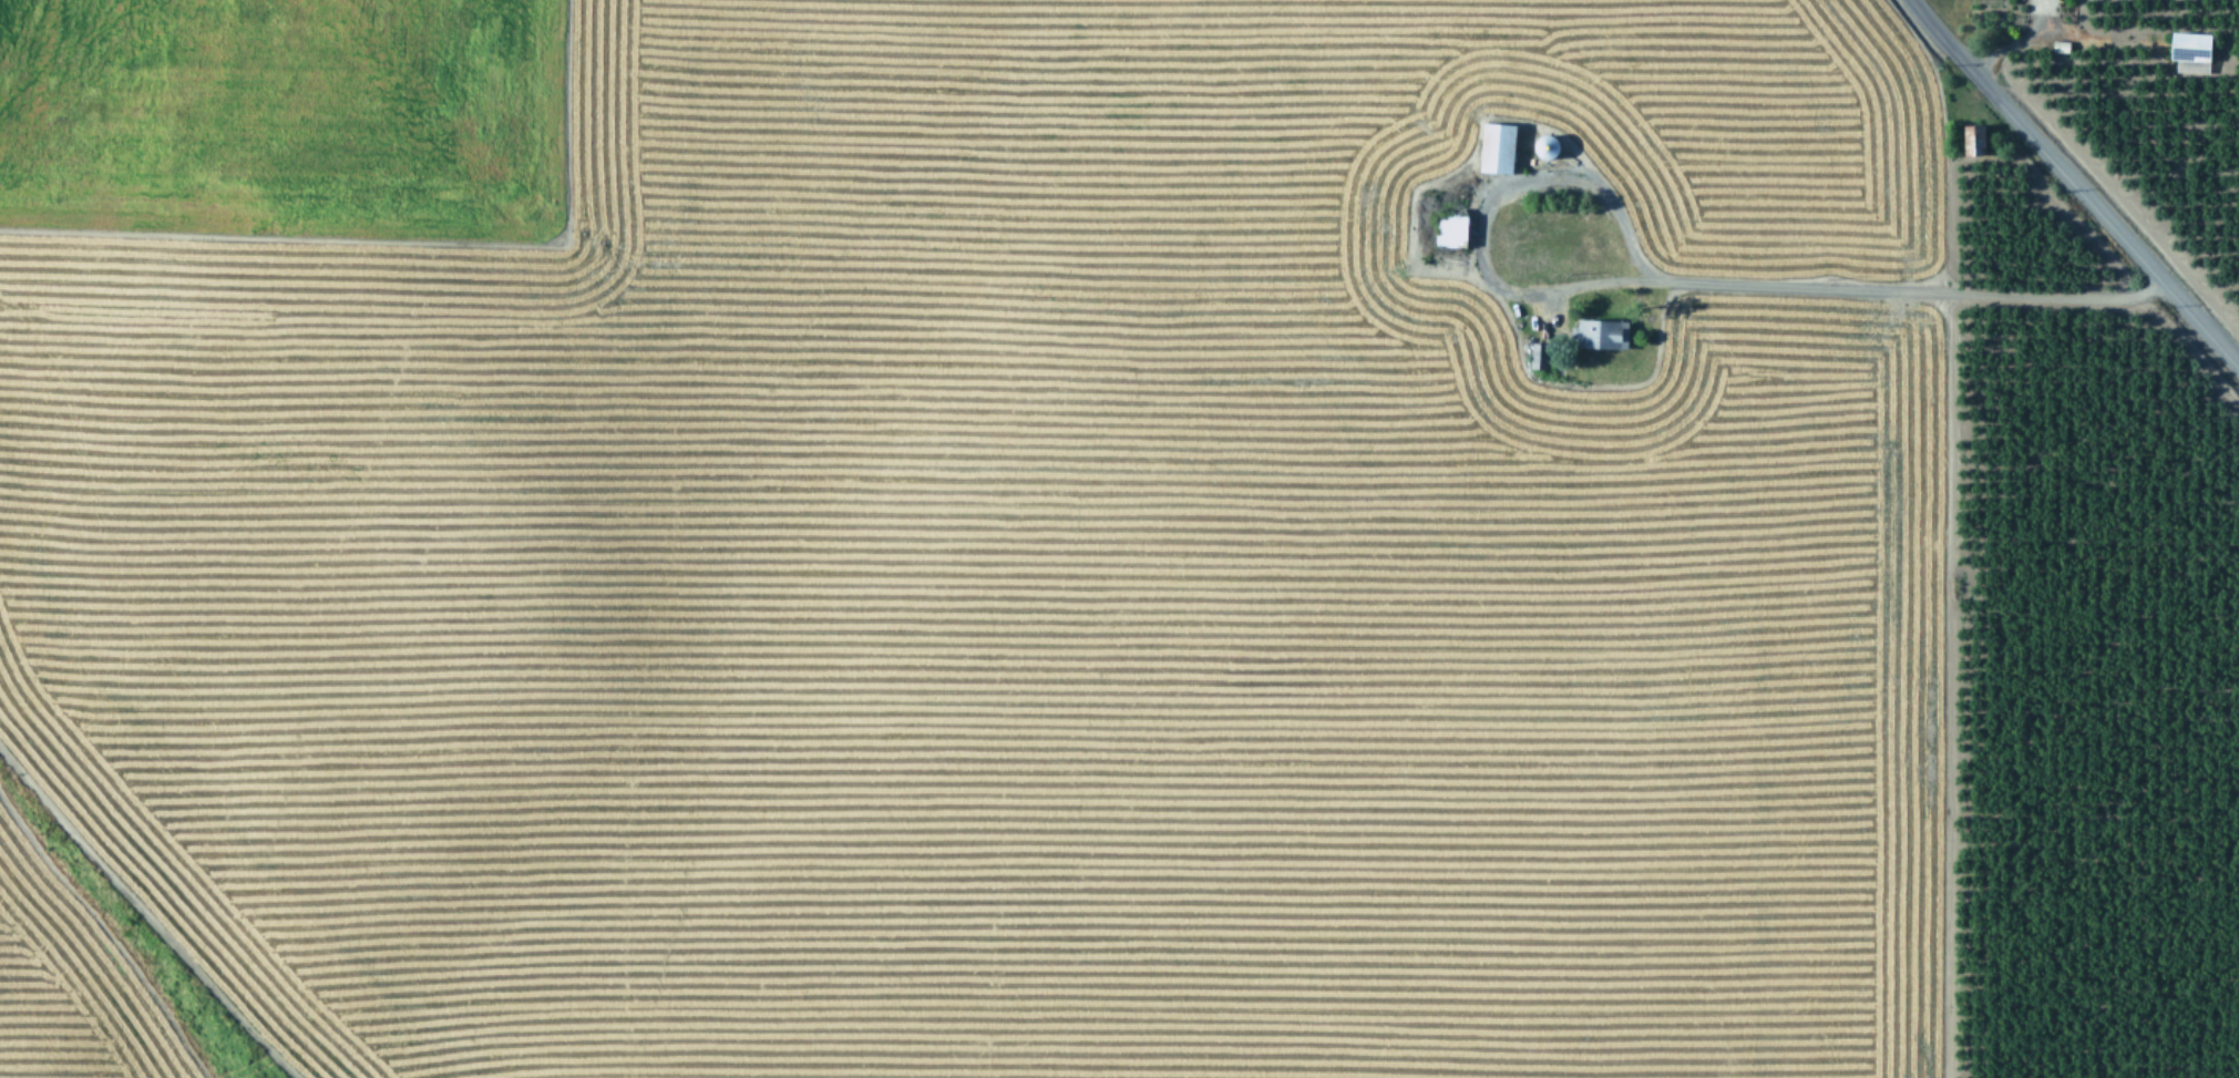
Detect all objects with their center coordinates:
road: (2053, 30)
building: (2058, 42)
building: (2189, 49)
crop: (2170, 81)
crop: (1018, 123)
building: (1971, 137)
building: (1542, 143)
building: (1495, 144)
road: (2074, 184)
building: (1449, 228)
road: (1670, 278)
building: (1599, 331)
building: (1537, 352)
crop: (1099, 685)

